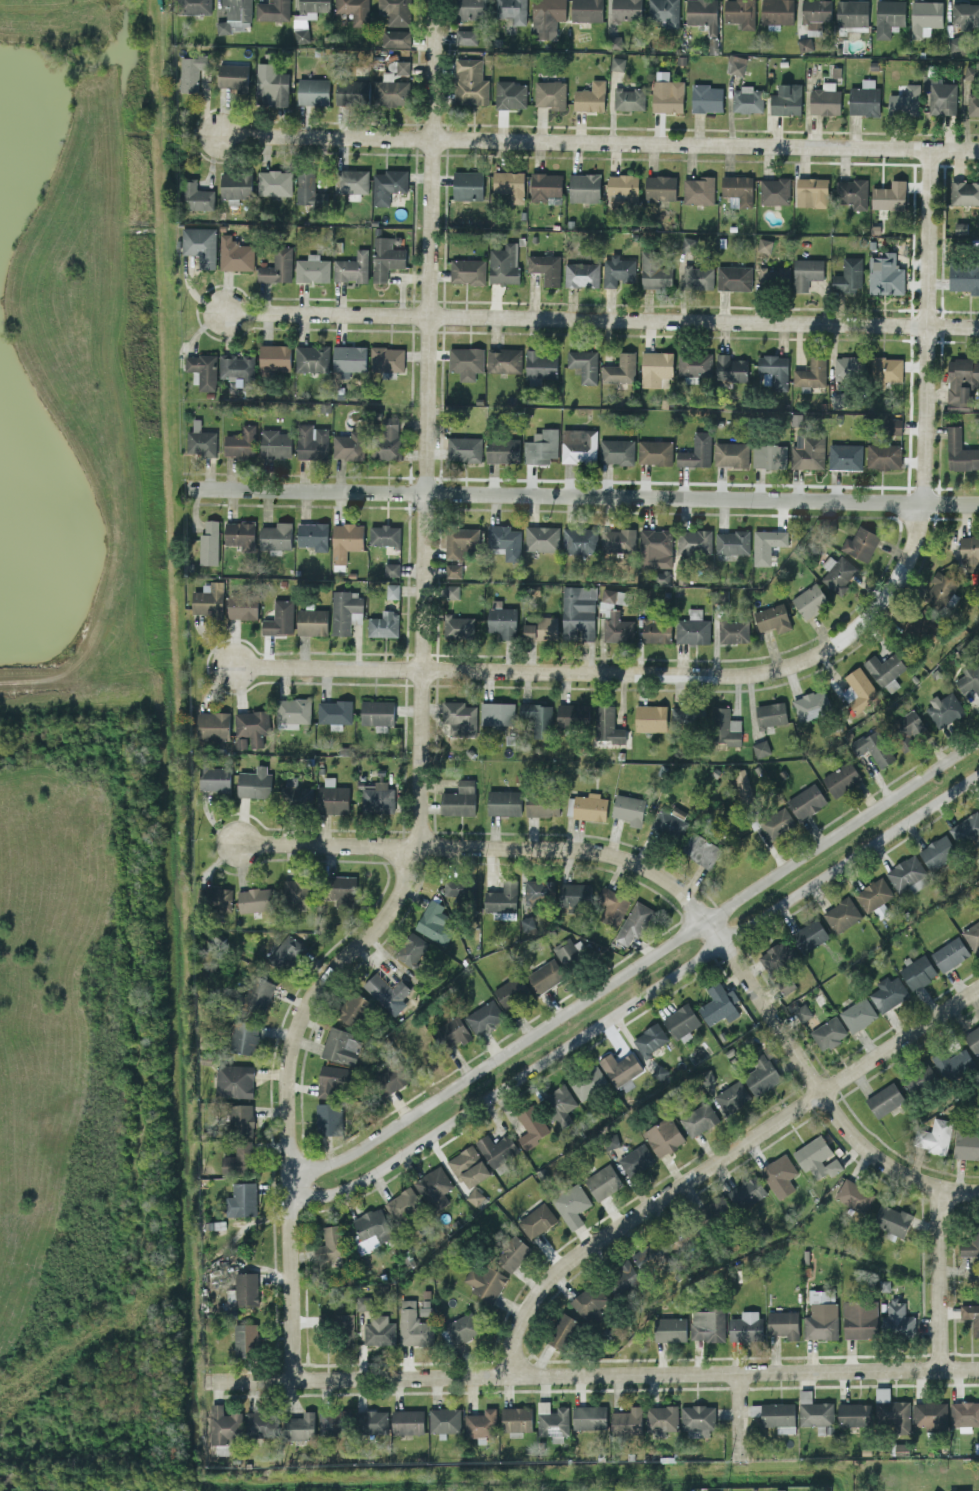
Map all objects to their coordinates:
building: (196, 6)
building: (472, 9)
building: (626, 9)
building: (272, 10)
building: (354, 10)
building: (512, 10)
building: (587, 10)
building: (396, 11)
building: (665, 11)
building: (777, 11)
building: (740, 12)
building: (852, 12)
building: (965, 14)
building: (235, 16)
building: (547, 16)
building: (888, 16)
building: (307, 17)
building: (925, 17)
building: (704, 18)
building: (466, 36)
building: (396, 38)
building: (615, 41)
building: (805, 43)
building: (956, 45)
building: (617, 62)
building: (736, 64)
building: (403, 66)
building: (192, 71)
building: (971, 72)
building: (233, 75)
building: (470, 82)
building: (271, 87)
building: (391, 89)
building: (313, 91)
building: (352, 92)
building: (550, 93)
building: (510, 94)
building: (667, 95)
building: (590, 96)
building: (707, 97)
building: (629, 98)
building: (864, 98)
building: (943, 98)
building: (747, 99)
building: (786, 99)
building: (825, 100)
building: (904, 101)
building: (972, 104)
road: (599, 141)
building: (274, 182)
building: (352, 182)
building: (388, 184)
building: (509, 184)
building: (236, 185)
building: (468, 185)
building: (545, 186)
building: (584, 187)
building: (660, 187)
building: (307, 188)
building: (623, 188)
building: (738, 189)
building: (699, 190)
building: (774, 190)
building: (812, 192)
building: (852, 192)
building: (964, 192)
building: (890, 195)
building: (196, 196)
building: (688, 243)
building: (200, 244)
building: (764, 245)
building: (236, 254)
building: (385, 258)
building: (504, 263)
building: (278, 265)
building: (352, 267)
building: (545, 267)
building: (312, 268)
building: (618, 269)
building: (467, 270)
building: (654, 271)
building: (806, 272)
building: (581, 274)
building: (885, 274)
building: (773, 276)
building: (848, 276)
building: (964, 276)
building: (698, 277)
building: (734, 277)
road: (601, 321)
road: (928, 326)
building: (274, 356)
building: (349, 357)
building: (312, 358)
building: (387, 358)
building: (504, 359)
building: (466, 361)
building: (694, 363)
building: (540, 364)
building: (584, 364)
building: (846, 366)
building: (656, 368)
building: (730, 368)
building: (620, 369)
building: (775, 369)
building: (203, 370)
building: (238, 371)
building: (812, 372)
building: (961, 381)
building: (838, 399)
building: (895, 425)
building: (389, 438)
building: (312, 441)
building: (201, 442)
building: (240, 442)
building: (276, 443)
building: (579, 444)
building: (349, 445)
building: (541, 446)
building: (464, 448)
building: (503, 449)
building: (616, 450)
building: (808, 450)
building: (655, 451)
building: (696, 451)
building: (960, 451)
building: (731, 453)
building: (769, 455)
building: (883, 455)
building: (845, 456)
road: (582, 495)
building: (239, 533)
building: (384, 534)
building: (313, 535)
building: (276, 537)
building: (542, 538)
building: (579, 539)
building: (618, 539)
building: (346, 540)
building: (504, 540)
building: (460, 541)
building: (694, 541)
building: (731, 541)
building: (209, 542)
building: (860, 542)
building: (766, 544)
building: (655, 547)
building: (969, 548)
building: (392, 568)
building: (453, 570)
building: (838, 573)
building: (661, 576)
building: (939, 588)
building: (392, 590)
building: (452, 591)
building: (209, 599)
building: (809, 600)
building: (243, 606)
building: (346, 611)
building: (578, 611)
building: (615, 615)
building: (772, 617)
building: (280, 618)
building: (502, 620)
building: (312, 621)
building: (927, 622)
building: (384, 624)
building: (458, 626)
building: (692, 627)
building: (541, 628)
building: (655, 629)
building: (733, 630)
building: (884, 668)
road: (623, 670)
building: (969, 678)
building: (859, 689)
building: (811, 703)
building: (944, 709)
road: (421, 710)
building: (293, 712)
building: (377, 712)
building: (497, 713)
building: (771, 713)
building: (568, 715)
building: (687, 715)
building: (459, 717)
building: (538, 717)
building: (650, 717)
building: (213, 724)
building: (607, 724)
building: (252, 725)
building: (725, 726)
building: (907, 727)
building: (872, 746)
building: (761, 747)
park: (94, 765)
building: (214, 778)
building: (841, 778)
building: (255, 782)
building: (743, 785)
building: (297, 792)
building: (333, 797)
building: (376, 797)
building: (459, 799)
building: (503, 801)
building: (806, 801)
building: (542, 805)
building: (587, 805)
building: (628, 808)
building: (669, 820)
building: (777, 822)
building: (967, 830)
building: (700, 849)
building: (937, 851)
building: (907, 873)
road: (677, 885)
building: (343, 887)
building: (538, 890)
building: (296, 892)
building: (573, 893)
building: (873, 895)
building: (216, 898)
building: (255, 899)
building: (501, 899)
building: (612, 905)
building: (841, 913)
building: (634, 921)
building: (434, 922)
building: (527, 922)
building: (972, 934)
building: (809, 935)
building: (411, 949)
building: (569, 950)
building: (286, 951)
building: (949, 953)
building: (776, 956)
road: (638, 965)
building: (917, 971)
building: (545, 975)
building: (511, 992)
building: (887, 992)
building: (387, 993)
road: (639, 998)
building: (718, 1004)
building: (351, 1010)
building: (802, 1011)
building: (858, 1013)
building: (483, 1015)
building: (681, 1021)
building: (453, 1031)
building: (828, 1032)
building: (244, 1036)
building: (650, 1039)
building: (972, 1039)
building: (341, 1045)
building: (951, 1061)
building: (620, 1067)
building: (761, 1074)
building: (394, 1075)
building: (918, 1077)
building: (234, 1080)
building: (334, 1080)
building: (587, 1081)
building: (732, 1095)
building: (884, 1099)
building: (558, 1103)
building: (329, 1118)
building: (698, 1118)
building: (242, 1119)
building: (531, 1125)
building: (663, 1135)
building: (933, 1135)
building: (966, 1144)
building: (496, 1148)
building: (816, 1157)
building: (636, 1159)
building: (237, 1160)
road: (717, 1160)
building: (468, 1166)
building: (779, 1174)
building: (602, 1181)
building: (435, 1185)
building: (747, 1191)
building: (853, 1194)
building: (476, 1197)
building: (242, 1199)
building: (402, 1203)
building: (571, 1204)
building: (717, 1207)
building: (891, 1219)
building: (537, 1220)
building: (372, 1228)
building: (970, 1242)
building: (330, 1244)
building: (511, 1251)
building: (651, 1254)
building: (623, 1274)
building: (485, 1279)
road: (937, 1279)
building: (246, 1288)
building: (363, 1302)
building: (588, 1302)
building: (821, 1314)
building: (971, 1316)
building: (898, 1318)
building: (858, 1319)
building: (783, 1323)
building: (707, 1324)
building: (413, 1325)
building: (745, 1326)
building: (343, 1327)
building: (462, 1327)
building: (670, 1328)
building: (379, 1330)
building: (561, 1330)
building: (245, 1338)
road: (592, 1373)
building: (964, 1412)
building: (815, 1413)
building: (854, 1413)
building: (929, 1413)
road: (737, 1414)
building: (775, 1414)
building: (894, 1414)
building: (588, 1416)
building: (660, 1418)
building: (444, 1419)
building: (516, 1419)
building: (697, 1419)
building: (373, 1420)
building: (551, 1420)
building: (627, 1420)
building: (332, 1421)
building: (407, 1421)
building: (261, 1423)
building: (481, 1423)
building: (224, 1424)
building: (299, 1426)
building: (780, 1489)
building: (958, 1490)

